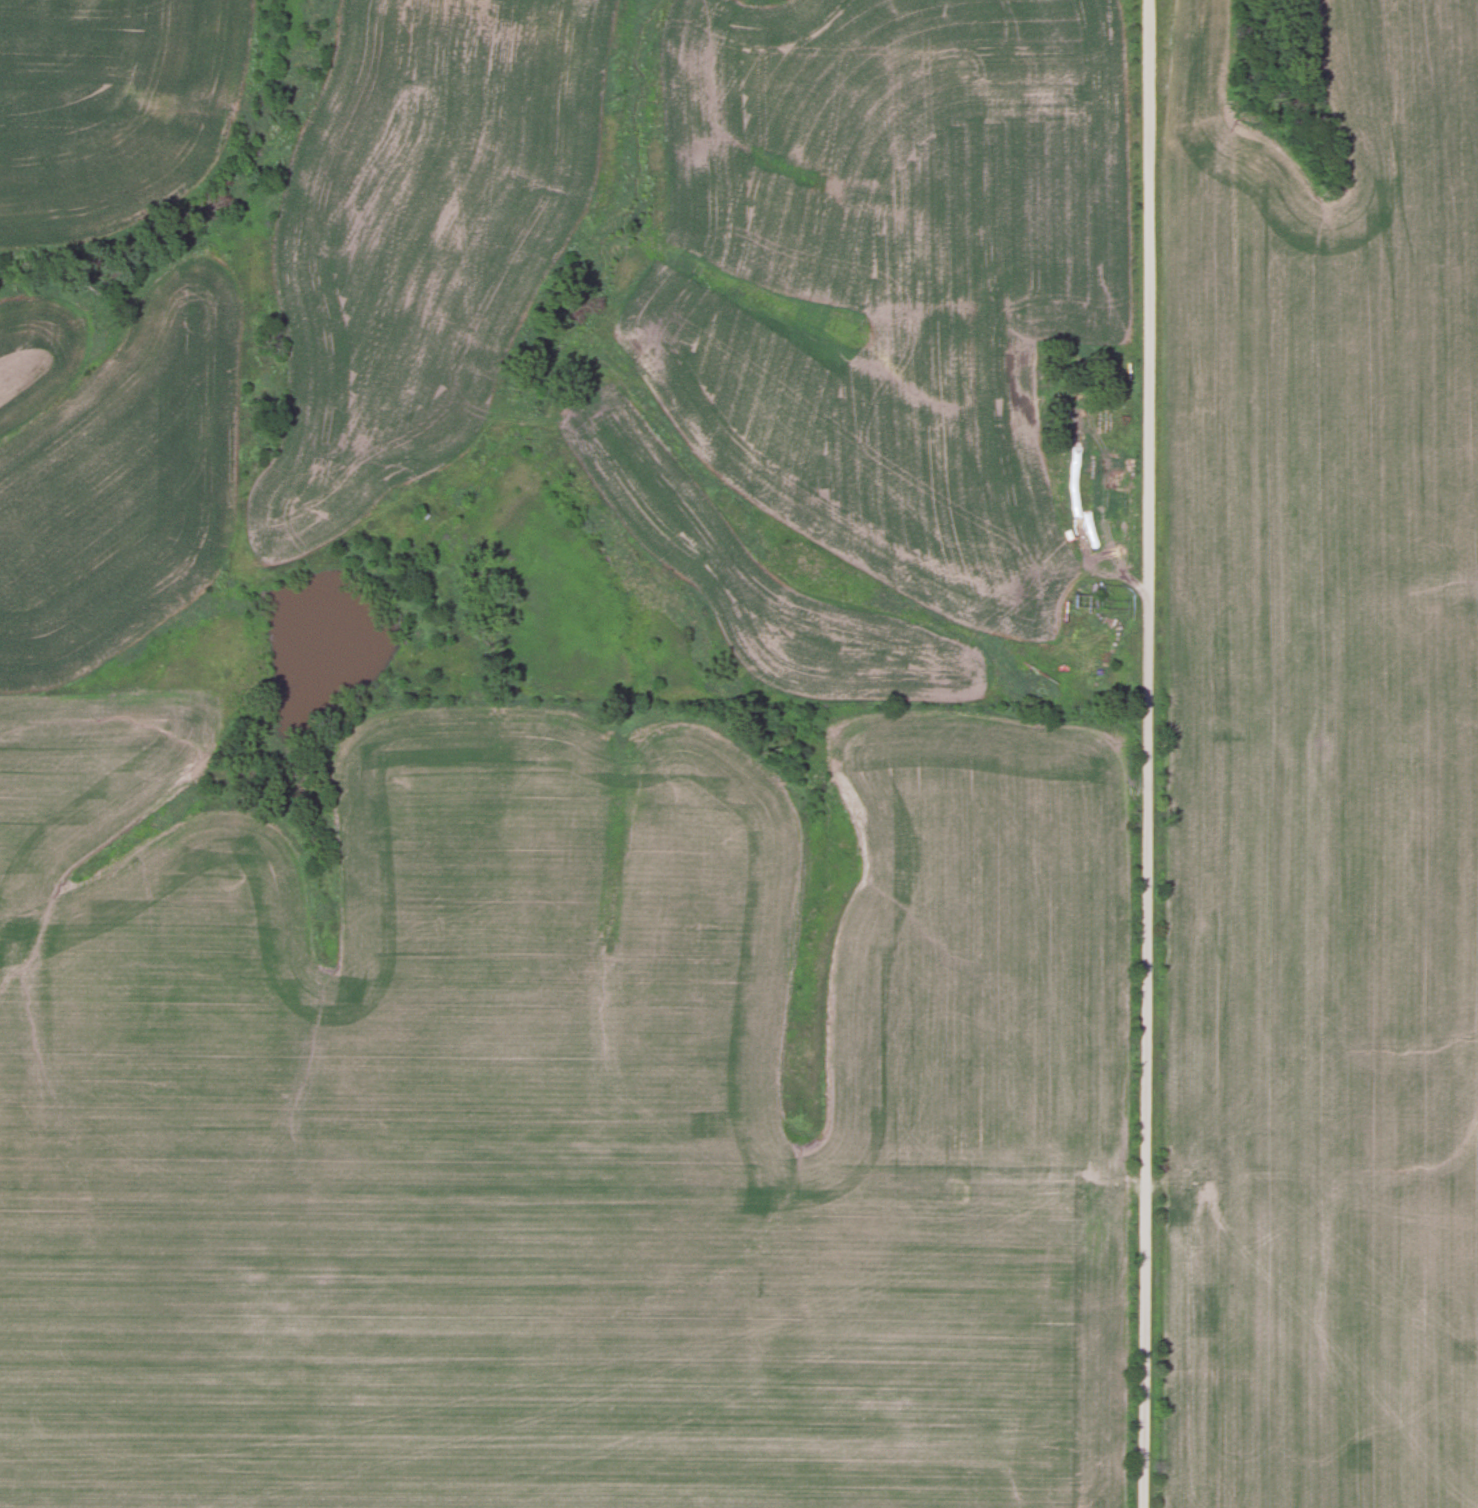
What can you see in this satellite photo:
building: (1084, 601)
road: (1148, 753)

